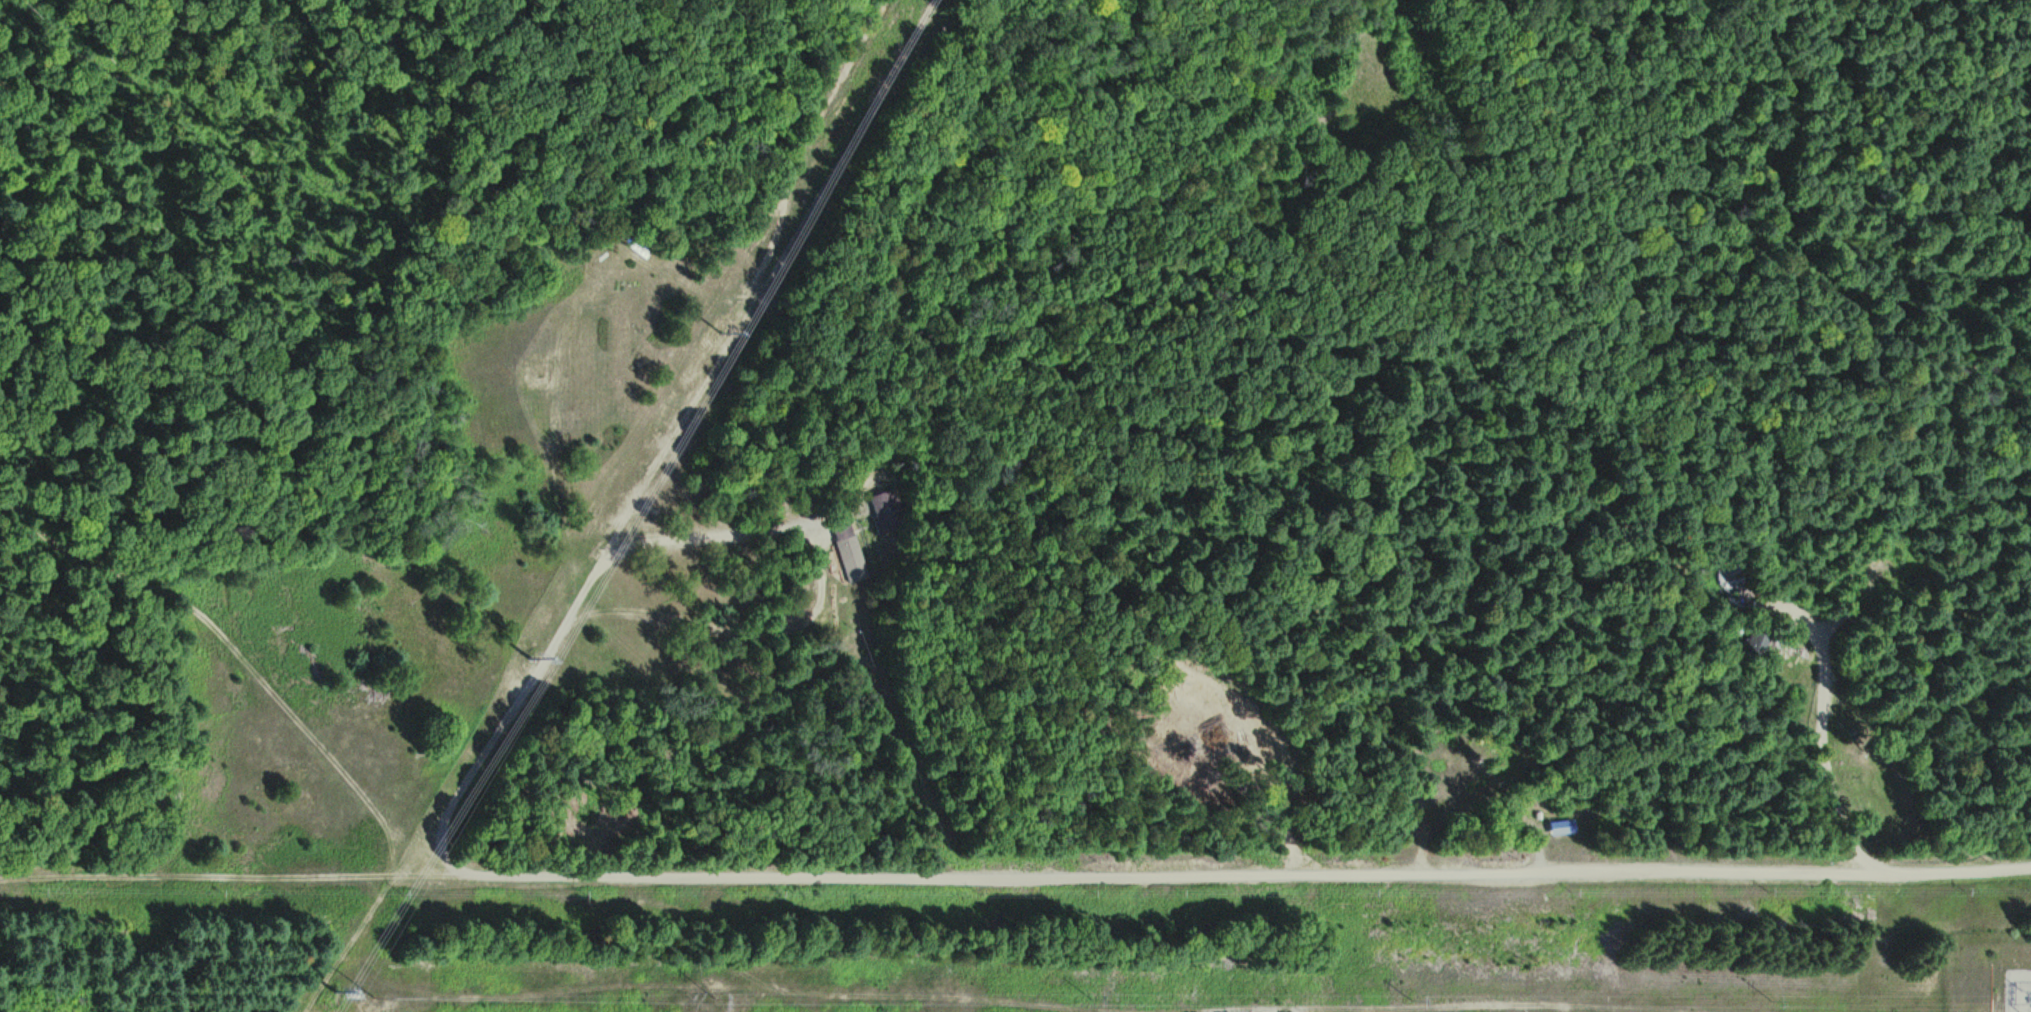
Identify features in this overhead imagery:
power tower: (720, 331)
building: (887, 510)
building: (850, 552)
building: (1736, 577)
power tower: (529, 657)
road: (238, 676)
building: (1566, 827)
road: (1247, 873)
power tower: (334, 989)
power substation: (2019, 991)

